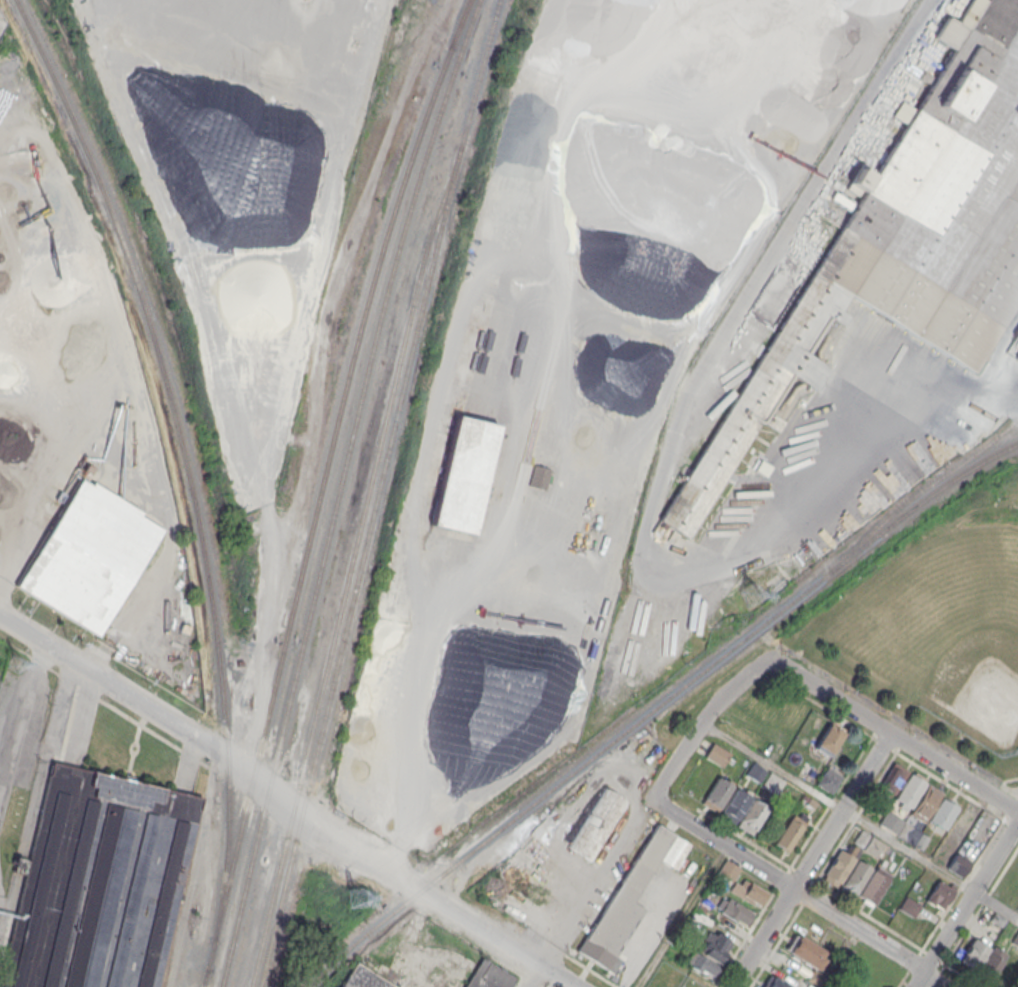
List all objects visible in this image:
landfill: (244, 179)
building: (907, 241)
building: (1016, 334)
building: (1017, 357)
road: (870, 439)
railway: (185, 456)
building: (463, 475)
building: (539, 478)
railway: (319, 489)
railway: (337, 490)
railway: (376, 492)
road: (558, 514)
building: (89, 556)
railway: (346, 573)
park: (936, 636)
power tower: (16, 664)
railway: (656, 706)
road: (22, 716)
road: (701, 722)
road: (894, 734)
building: (829, 739)
building: (717, 754)
building: (755, 772)
building: (807, 772)
building: (892, 779)
building: (828, 781)
building: (772, 783)
building: (907, 791)
building: (717, 794)
building: (924, 801)
building: (735, 804)
road: (286, 805)
building: (941, 813)
road: (838, 816)
building: (752, 817)
road: (859, 819)
building: (597, 824)
building: (791, 831)
building: (958, 864)
road: (601, 868)
building: (836, 868)
building: (854, 878)
building: (96, 882)
road: (787, 885)
building: (872, 885)
building: (747, 892)
building: (940, 894)
road: (970, 895)
power tower: (354, 899)
building: (623, 904)
building: (734, 912)
road: (973, 916)
road: (681, 917)
building: (806, 952)
building: (710, 955)
building: (983, 958)
building: (488, 976)
railway: (204, 977)
road: (538, 977)
building: (363, 978)
building: (687, 979)
road: (918, 979)
road: (932, 980)
building: (774, 982)

